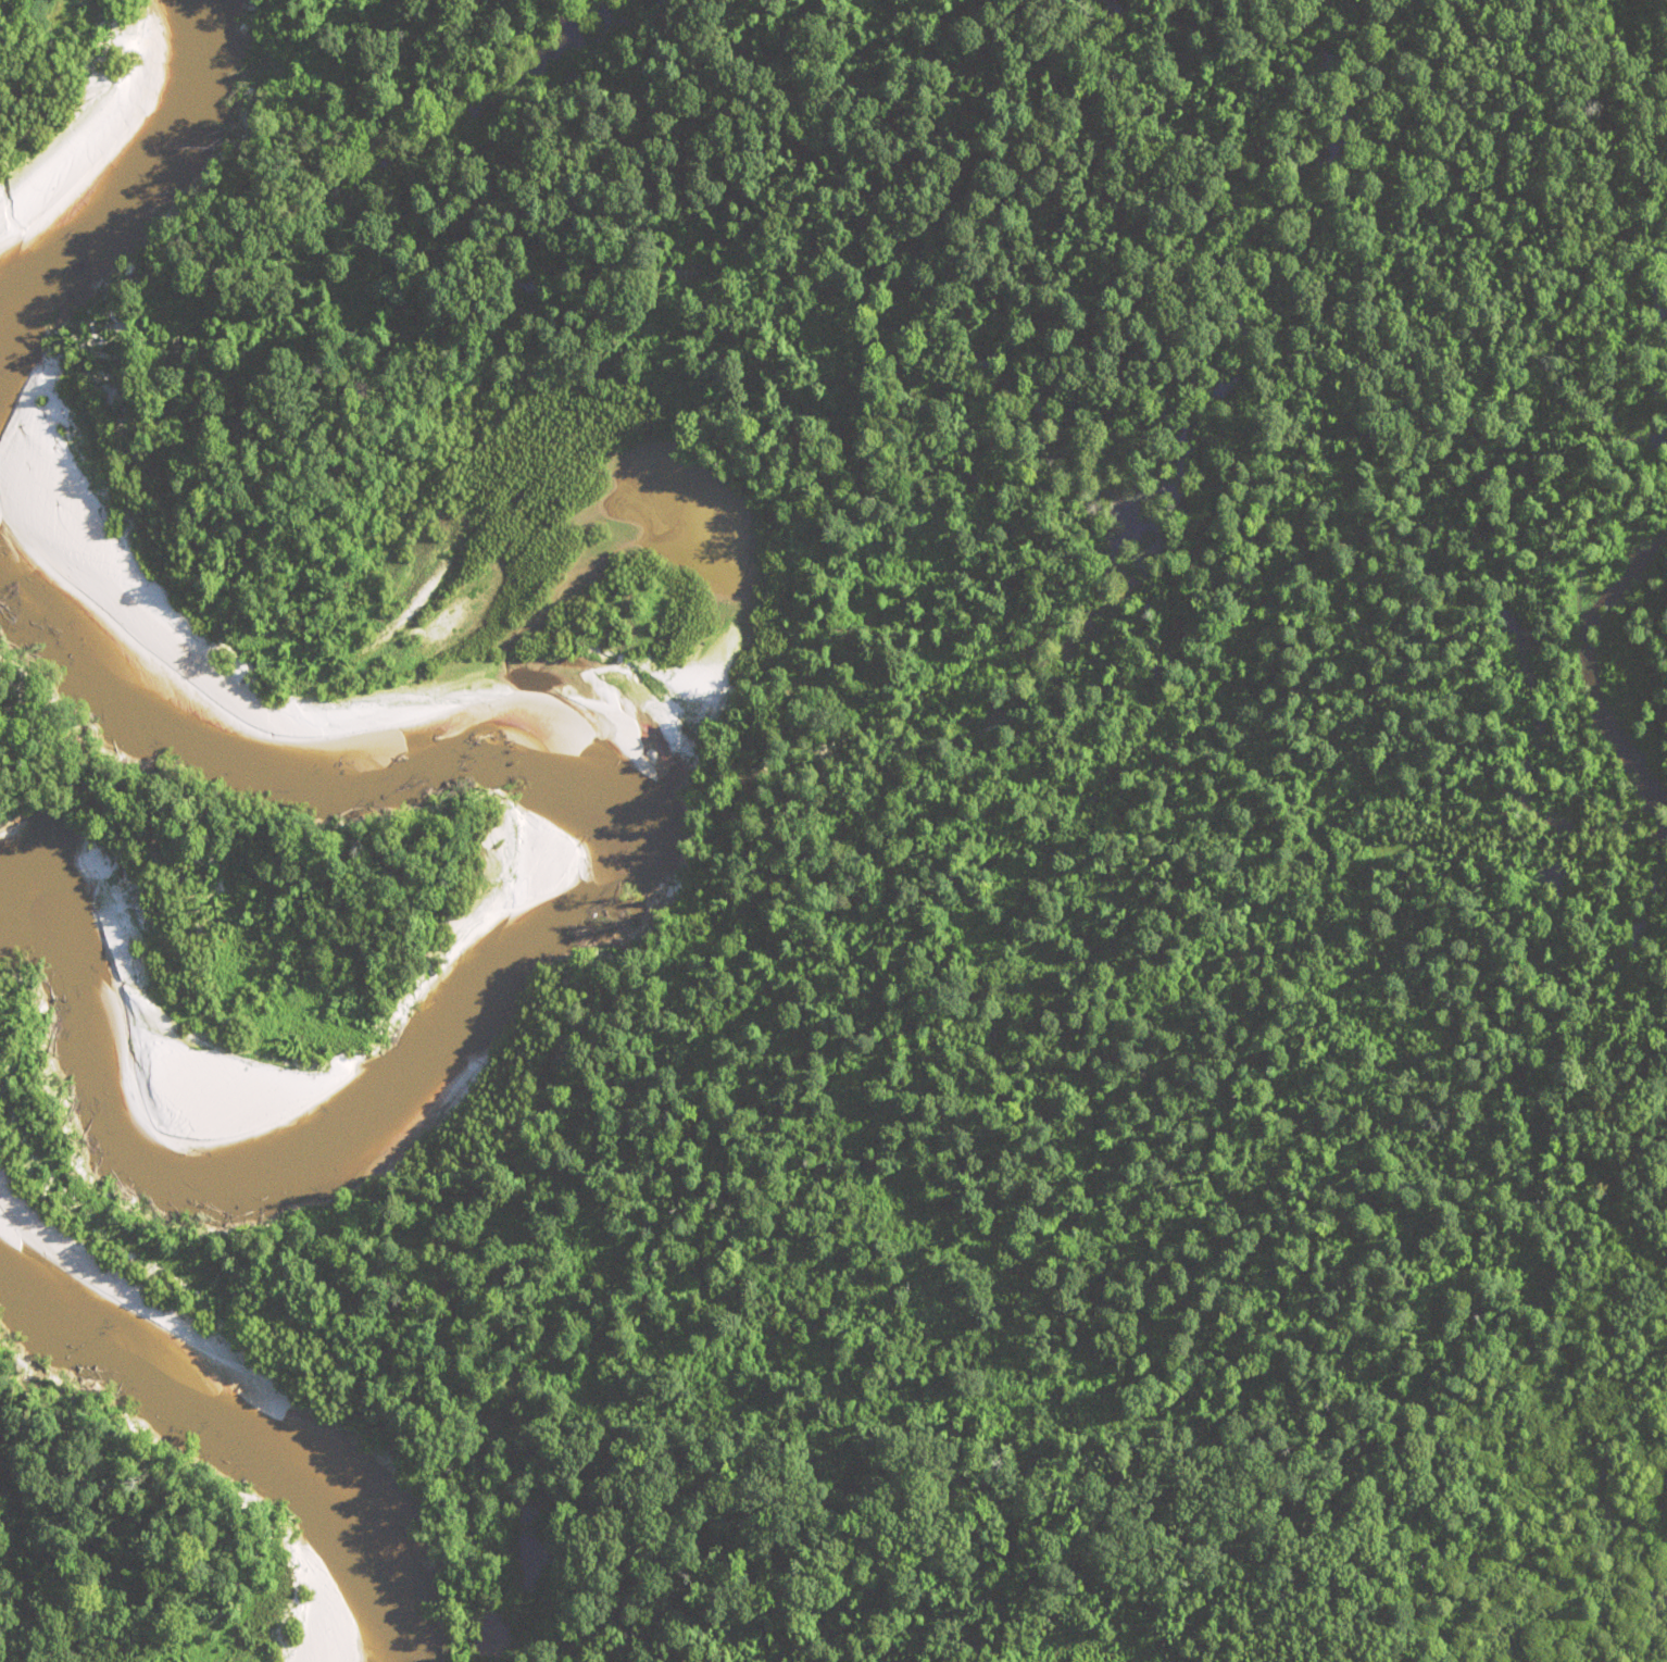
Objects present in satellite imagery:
river: (535, 476)
river: (261, 1364)

